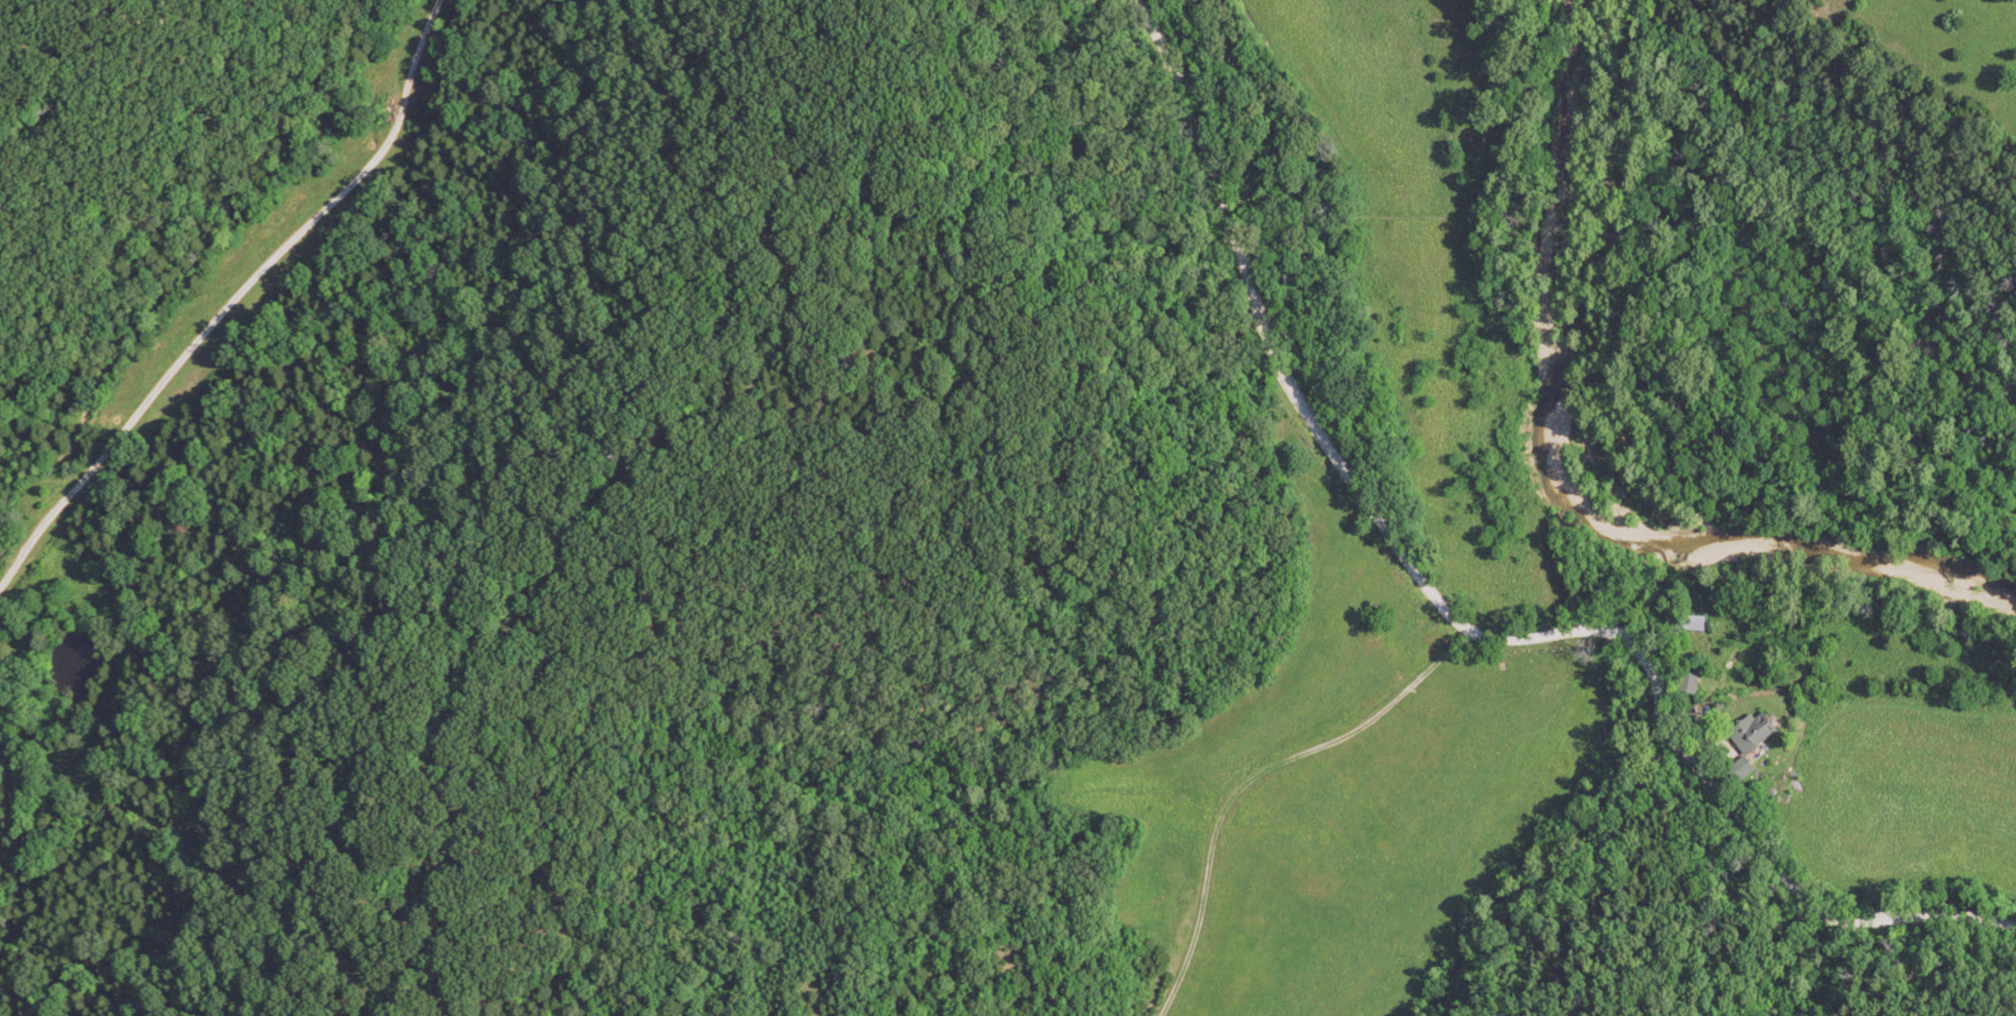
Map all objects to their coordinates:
road: (236, 302)
road: (1275, 335)
river: (1613, 468)
building: (1696, 621)
building: (1752, 739)
road: (1261, 782)
road: (1705, 791)

